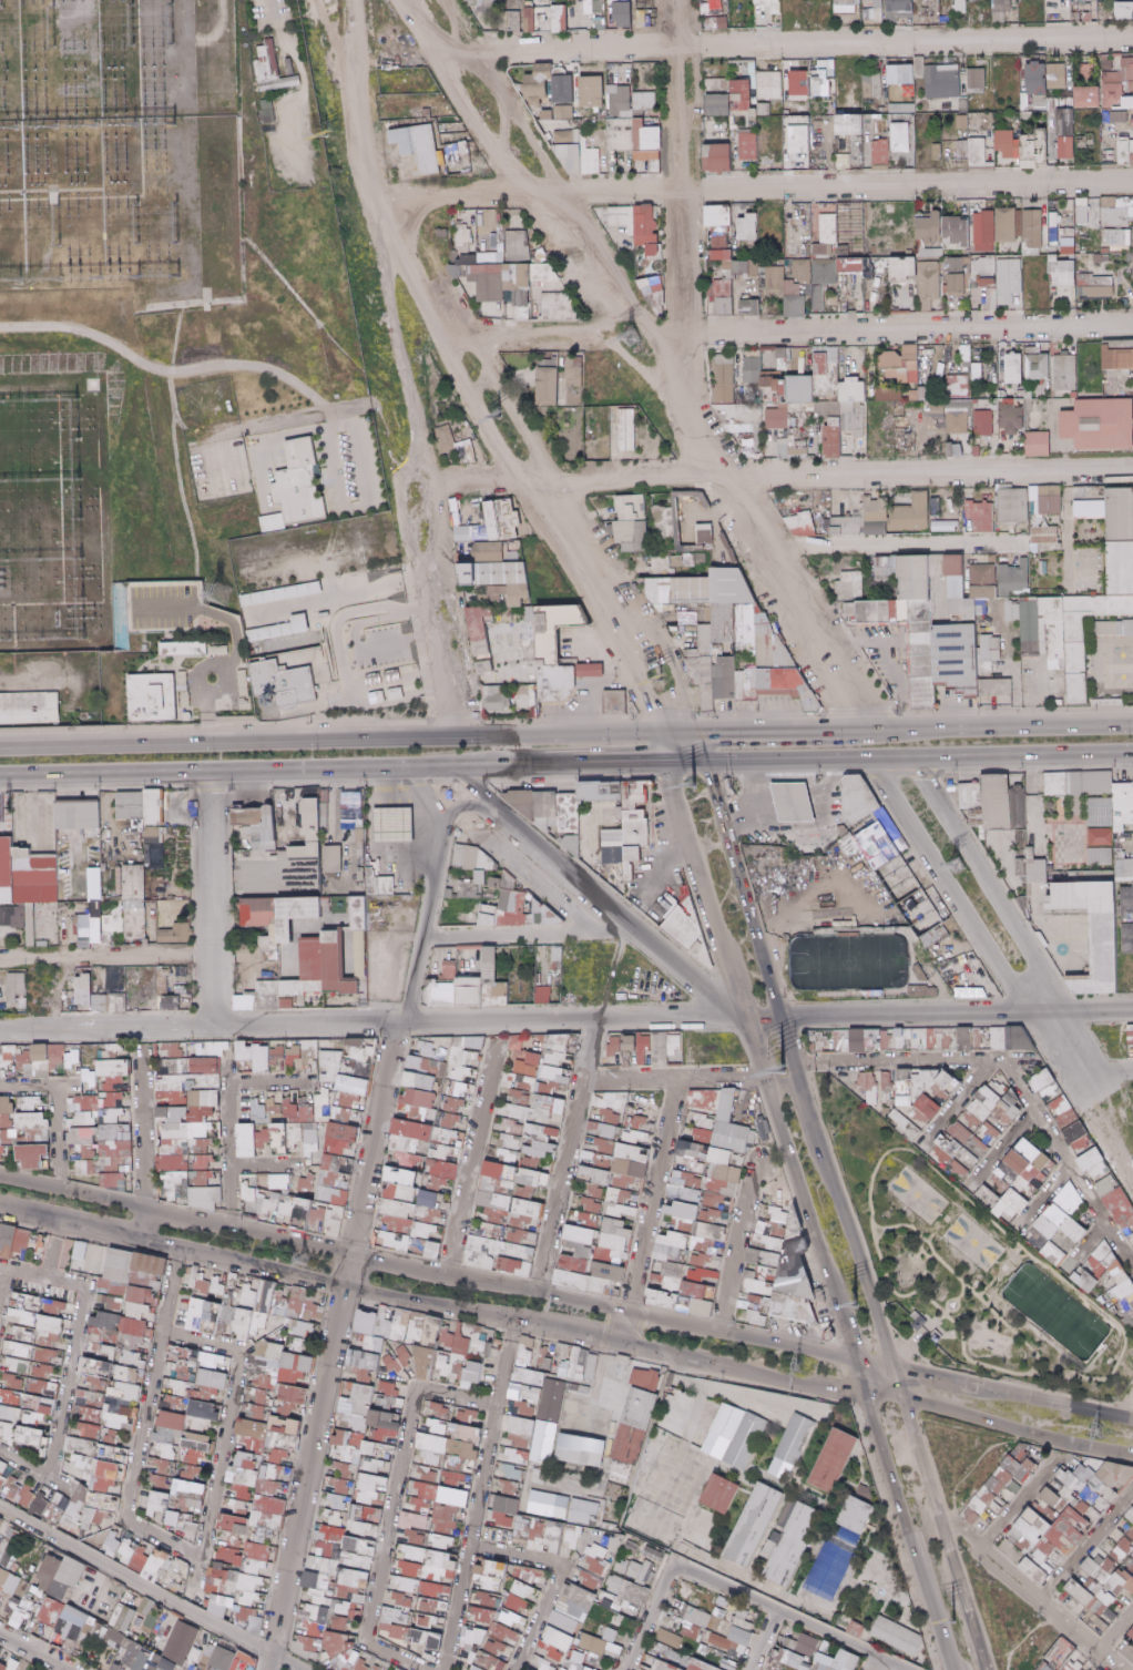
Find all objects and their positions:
power tower: (324, 136)
power substation: (160, 319)
power tower: (634, 337)
power tower: (497, 417)
power tower: (218, 590)
power tower: (210, 654)
power tower: (657, 679)
power tower: (687, 786)
gas station: (782, 786)
gas station: (380, 805)
power tower: (955, 862)
park: (848, 960)
power tower: (782, 1076)
power tower: (780, 1077)
park: (913, 1195)
park: (970, 1243)
power tower: (302, 1260)
park: (970, 1275)
power tower: (853, 1303)
park: (1055, 1311)
power tower: (792, 1364)
power tower: (1092, 1428)
power tower: (950, 1619)

